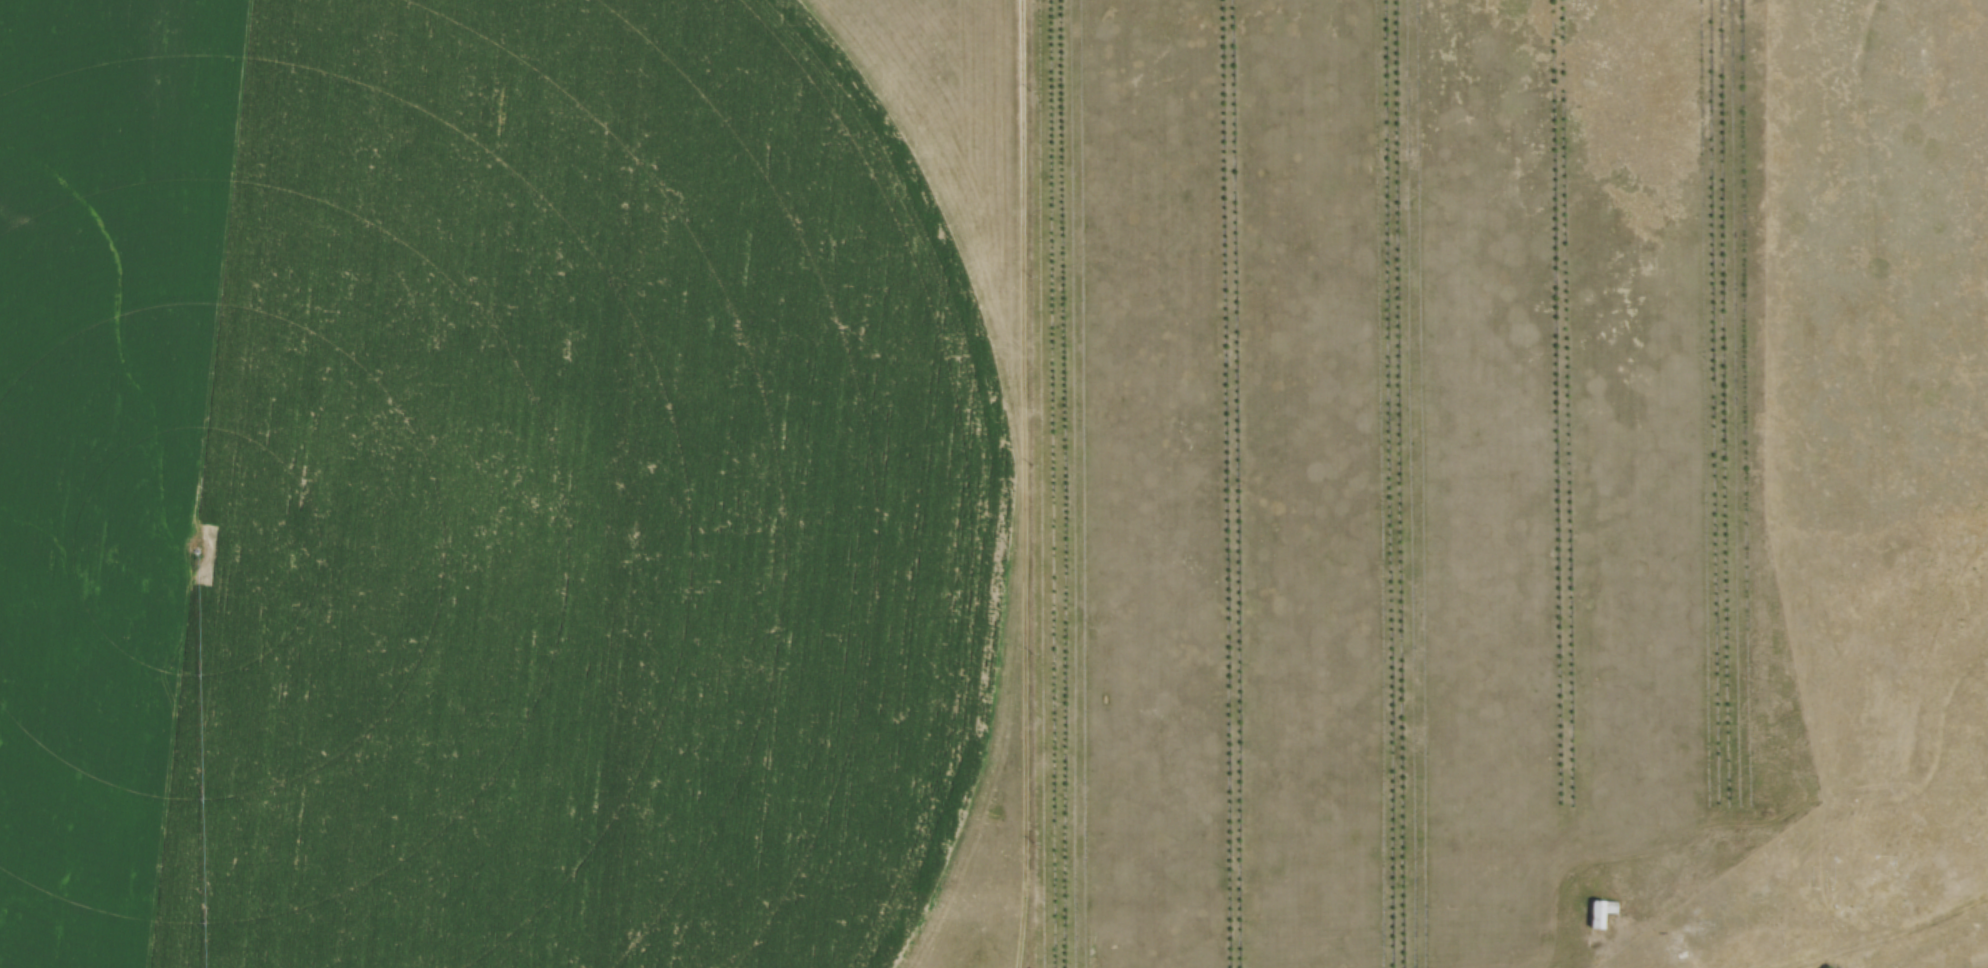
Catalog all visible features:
building: (1596, 911)

